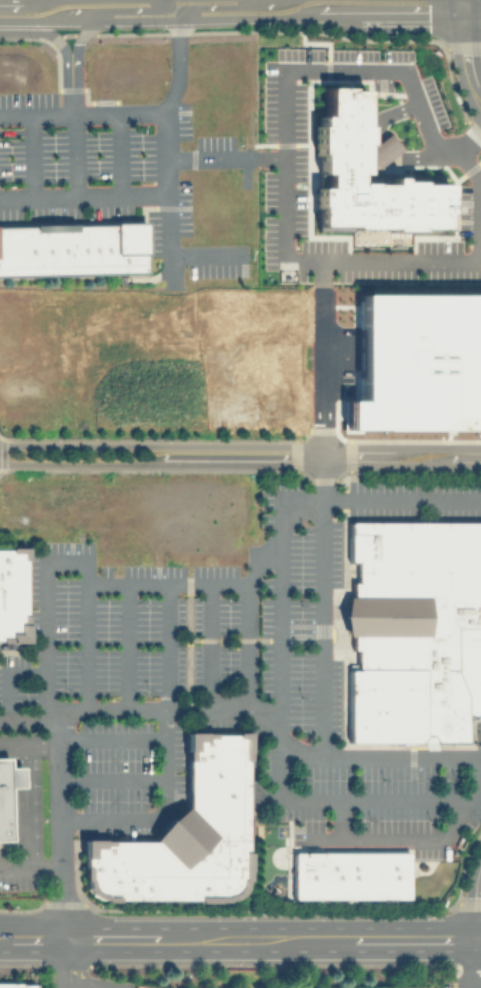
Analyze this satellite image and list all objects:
road: (453, 2)
road: (458, 2)
road: (470, 5)
road: (230, 6)
road: (107, 11)
road: (322, 16)
road: (91, 19)
road: (60, 48)
road: (464, 55)
road: (74, 62)
road: (288, 74)
road: (82, 111)
road: (480, 133)
road: (165, 151)
road: (119, 154)
road: (72, 155)
road: (208, 155)
road: (31, 156)
parking lot: (112, 170)
road: (473, 176)
road: (37, 198)
road: (167, 236)
building: (72, 249)
road: (205, 253)
road: (377, 263)
road: (319, 380)
road: (240, 445)
road: (240, 463)
road: (102, 582)
building: (12, 594)
road: (322, 601)
parking lot: (214, 608)
road: (246, 614)
building: (413, 629)
road: (22, 644)
road: (126, 645)
road: (208, 645)
road: (280, 650)
road: (6, 676)
road: (248, 710)
road: (52, 718)
road: (96, 739)
road: (13, 740)
road: (167, 751)
parking lot: (128, 776)
road: (111, 777)
building: (3, 801)
road: (28, 803)
parking lot: (381, 821)
building: (185, 835)
road: (392, 836)
road: (29, 866)
parking lot: (14, 875)
road: (404, 880)
road: (478, 905)
road: (240, 938)
road: (474, 962)
road: (62, 963)
building: (16, 985)

